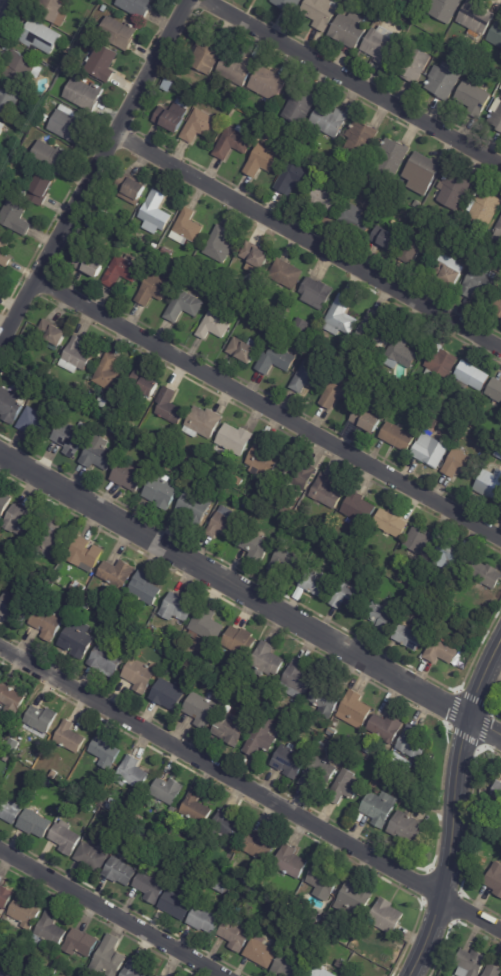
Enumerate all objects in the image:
road: (0, 0)
building: (353, 0)
building: (413, 3)
building: (289, 4)
building: (138, 6)
building: (445, 9)
building: (53, 11)
building: (321, 12)
building: (478, 16)
building: (381, 18)
building: (349, 29)
building: (120, 32)
building: (497, 34)
building: (40, 36)
building: (381, 43)
building: (185, 47)
building: (443, 47)
building: (68, 50)
building: (208, 54)
building: (490, 62)
building: (104, 63)
building: (415, 64)
building: (22, 68)
building: (237, 68)
building: (55, 73)
building: (444, 80)
building: (205, 82)
building: (269, 83)
road: (353, 83)
building: (85, 94)
building: (473, 97)
building: (9, 99)
building: (299, 106)
building: (496, 115)
building: (174, 116)
building: (44, 117)
building: (330, 120)
building: (68, 123)
building: (199, 125)
building: (2, 130)
building: (363, 138)
building: (235, 142)
building: (299, 147)
building: (50, 156)
building: (393, 156)
building: (299, 158)
building: (263, 160)
building: (425, 167)
road: (94, 169)
building: (367, 174)
building: (295, 178)
building: (42, 188)
building: (133, 189)
building: (455, 191)
building: (324, 200)
building: (485, 208)
building: (157, 211)
building: (104, 214)
building: (356, 217)
building: (16, 218)
building: (187, 227)
building: (498, 232)
building: (390, 239)
road: (307, 242)
building: (219, 245)
building: (419, 247)
building: (5, 251)
building: (257, 258)
building: (91, 264)
building: (123, 270)
building: (450, 270)
building: (286, 274)
building: (481, 282)
building: (154, 289)
building: (318, 293)
building: (184, 306)
building: (498, 306)
building: (342, 316)
building: (303, 324)
building: (214, 326)
building: (375, 330)
building: (54, 332)
building: (314, 344)
building: (246, 349)
building: (402, 350)
building: (76, 356)
building: (277, 360)
building: (344, 361)
building: (441, 362)
building: (108, 374)
building: (310, 376)
building: (473, 377)
building: (376, 379)
building: (33, 383)
building: (412, 385)
building: (341, 390)
building: (495, 390)
building: (67, 397)
building: (160, 397)
building: (77, 404)
building: (11, 405)
building: (430, 408)
road: (267, 409)
building: (369, 417)
building: (448, 421)
building: (436, 422)
building: (36, 423)
building: (203, 423)
building: (417, 429)
building: (398, 436)
building: (72, 437)
building: (234, 440)
building: (432, 450)
building: (498, 453)
building: (100, 455)
building: (263, 456)
building: (463, 465)
building: (301, 474)
building: (130, 475)
building: (491, 485)
building: (161, 491)
building: (327, 491)
building: (4, 502)
building: (195, 506)
building: (359, 511)
building: (22, 520)
building: (392, 522)
building: (225, 525)
building: (380, 537)
building: (52, 539)
building: (422, 541)
building: (256, 547)
building: (86, 554)
building: (334, 557)
building: (453, 558)
building: (287, 562)
building: (118, 572)
building: (488, 575)
building: (415, 579)
building: (318, 583)
building: (1, 585)
road: (232, 585)
building: (79, 587)
building: (146, 588)
building: (300, 594)
building: (349, 597)
building: (179, 607)
building: (15, 608)
building: (382, 617)
building: (47, 622)
building: (207, 624)
building: (151, 630)
building: (412, 637)
building: (77, 639)
building: (242, 640)
building: (446, 649)
building: (269, 657)
building: (107, 659)
building: (141, 674)
building: (300, 676)
road: (482, 677)
building: (169, 694)
building: (11, 698)
building: (326, 699)
building: (356, 706)
building: (202, 710)
building: (307, 710)
building: (254, 714)
building: (42, 718)
building: (388, 725)
road: (483, 725)
building: (232, 727)
building: (70, 736)
building: (263, 737)
building: (1, 741)
building: (415, 742)
building: (323, 745)
building: (369, 749)
building: (105, 752)
building: (292, 761)
building: (404, 762)
building: (319, 771)
building: (133, 772)
building: (54, 775)
building: (381, 775)
building: (58, 778)
building: (47, 783)
building: (367, 785)
building: (346, 787)
road: (250, 789)
building: (61, 790)
building: (168, 790)
building: (495, 791)
building: (117, 793)
building: (96, 795)
building: (111, 803)
building: (197, 808)
building: (333, 808)
building: (381, 808)
building: (500, 808)
building: (10, 809)
building: (172, 809)
building: (36, 822)
building: (230, 825)
building: (407, 828)
building: (66, 837)
building: (262, 845)
road: (450, 848)
building: (190, 850)
building: (92, 856)
building: (292, 861)
building: (121, 871)
building: (326, 877)
building: (493, 879)
building: (219, 885)
building: (151, 887)
building: (255, 887)
building: (5, 896)
building: (356, 896)
building: (271, 898)
building: (177, 905)
building: (285, 905)
building: (236, 908)
building: (295, 910)
building: (25, 911)
road: (110, 914)
building: (388, 915)
building: (205, 920)
building: (49, 931)
building: (236, 934)
building: (275, 939)
building: (81, 943)
building: (57, 951)
building: (262, 954)
building: (109, 958)
building: (342, 963)
building: (466, 963)
building: (291, 966)
building: (134, 968)
building: (322, 968)
building: (53, 971)
building: (491, 971)
building: (2, 974)
building: (155, 975)
building: (161, 975)

